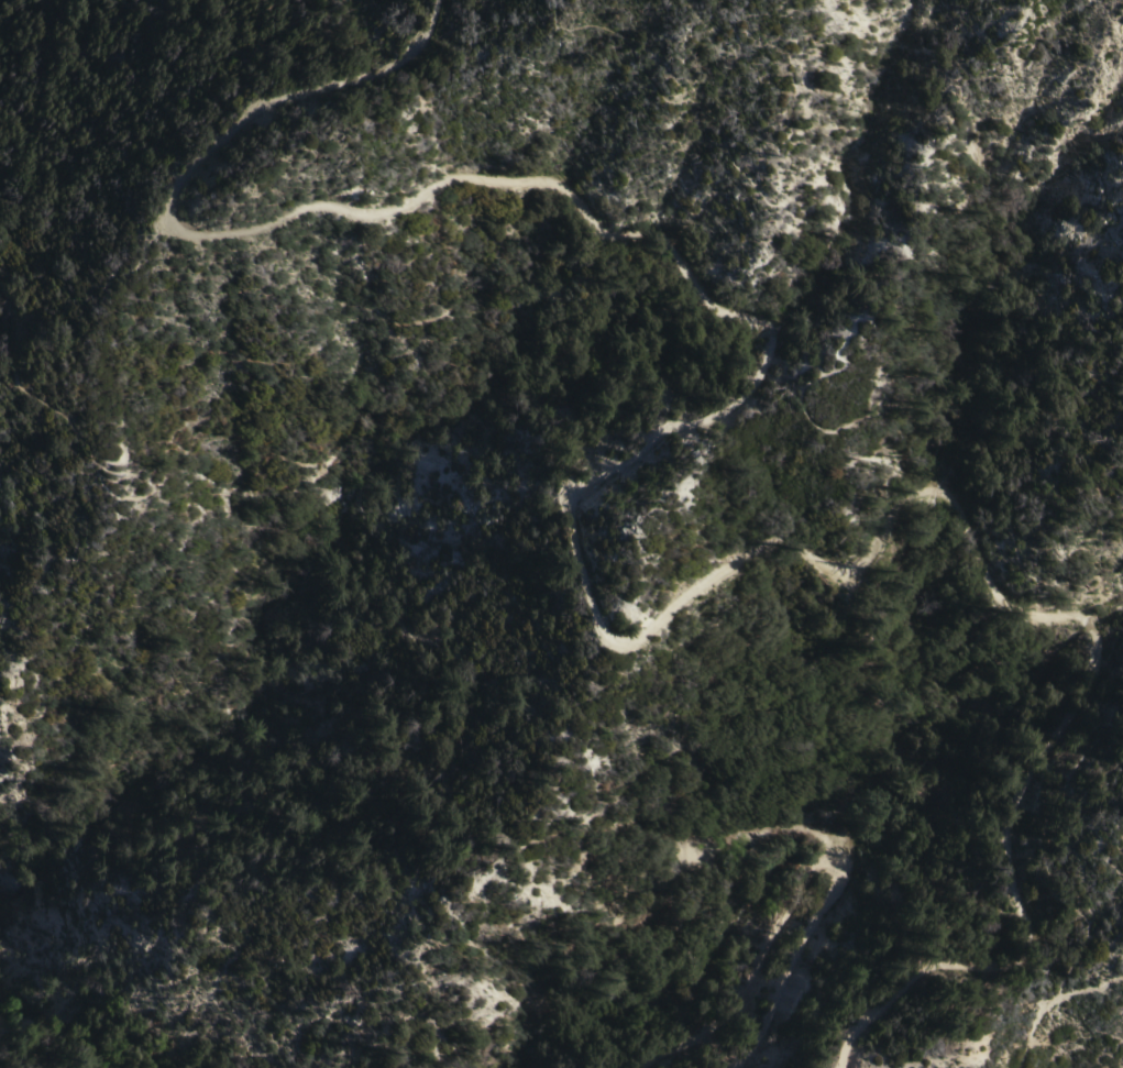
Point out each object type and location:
road: (53, 77)
road: (313, 207)
road: (850, 323)
road: (313, 328)
road: (730, 577)
road: (1099, 712)
road: (1099, 766)
road: (925, 779)
road: (843, 881)
road: (1080, 912)
road: (1036, 920)
road: (1027, 988)
road: (1052, 1002)
road: (691, 1046)

